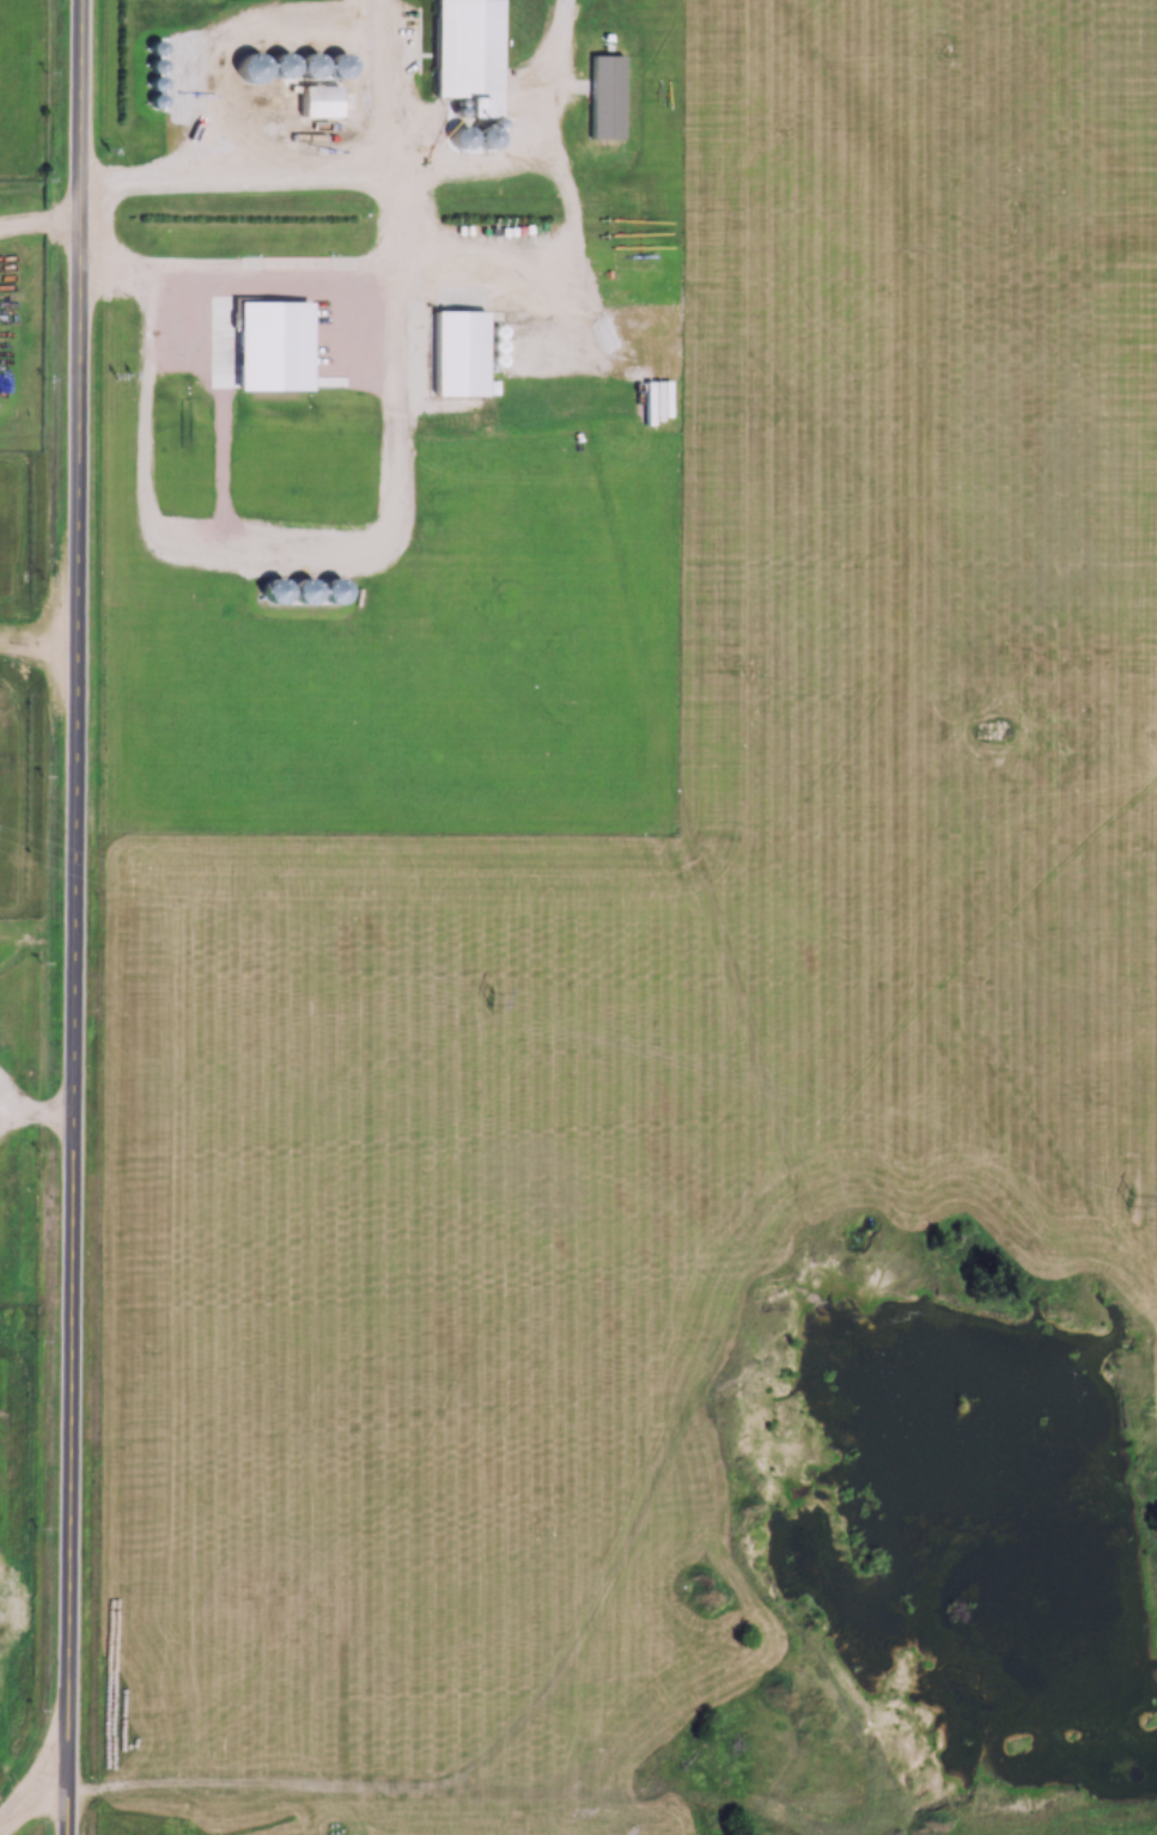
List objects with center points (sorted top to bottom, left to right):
building: (465, 56)
building: (306, 66)
building: (245, 69)
building: (603, 98)
building: (154, 100)
building: (317, 103)
road: (39, 228)
road: (75, 917)
power tower: (492, 998)
power tower: (1131, 1201)
road: (32, 1790)

